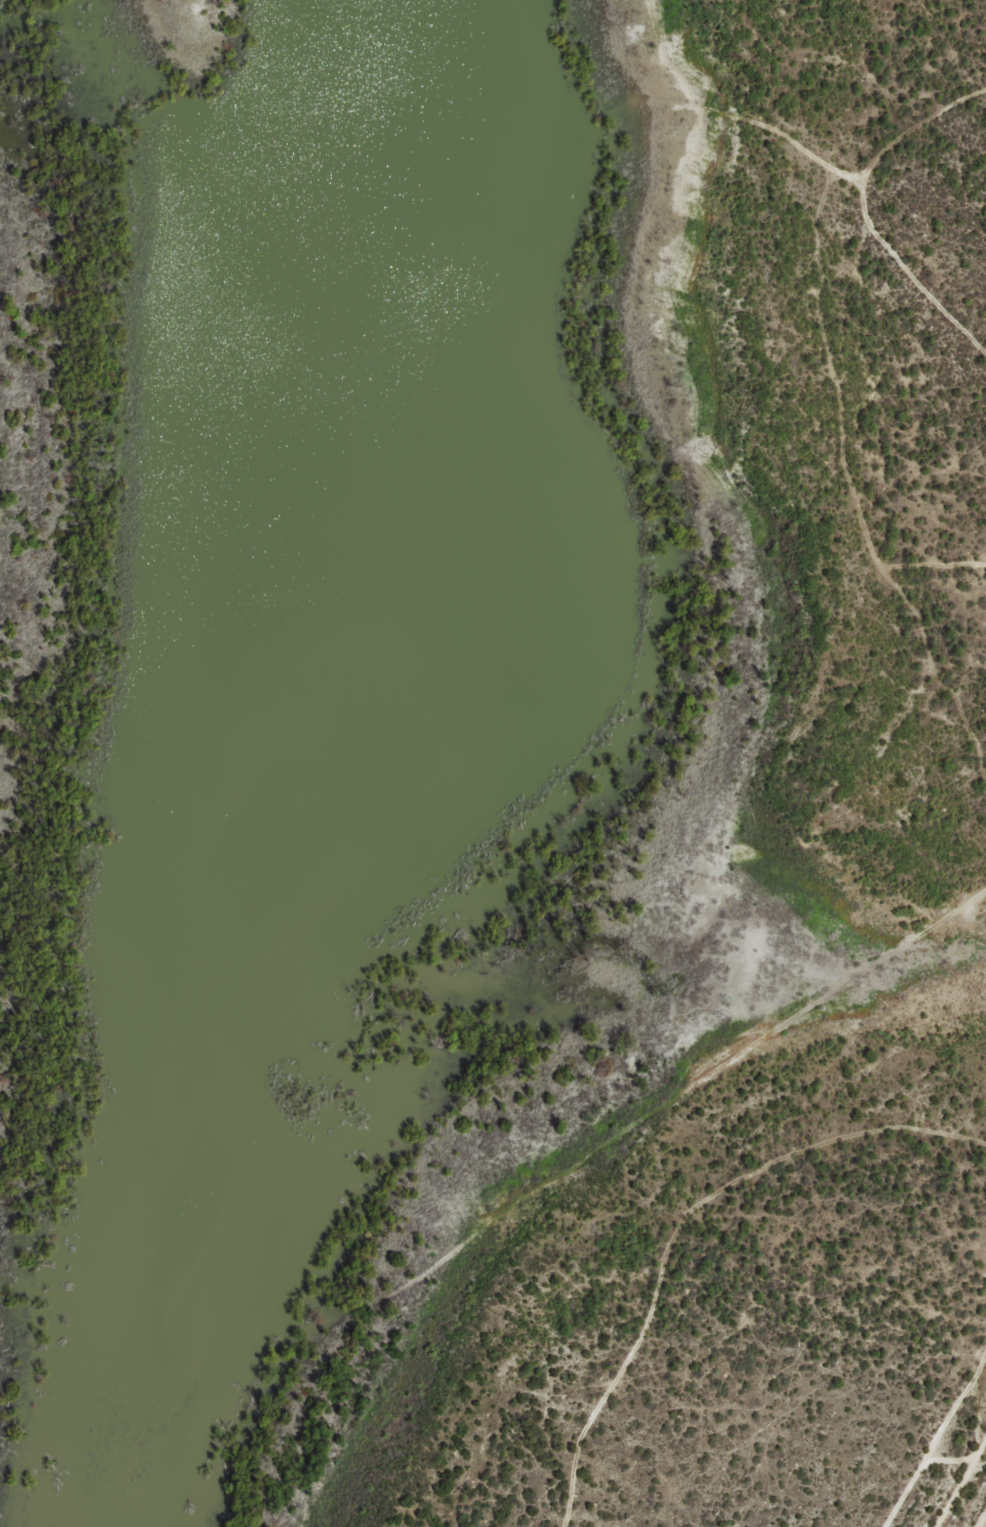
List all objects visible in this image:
road: (862, 211)
road: (932, 565)
railway: (959, 1482)
road: (980, 1517)

